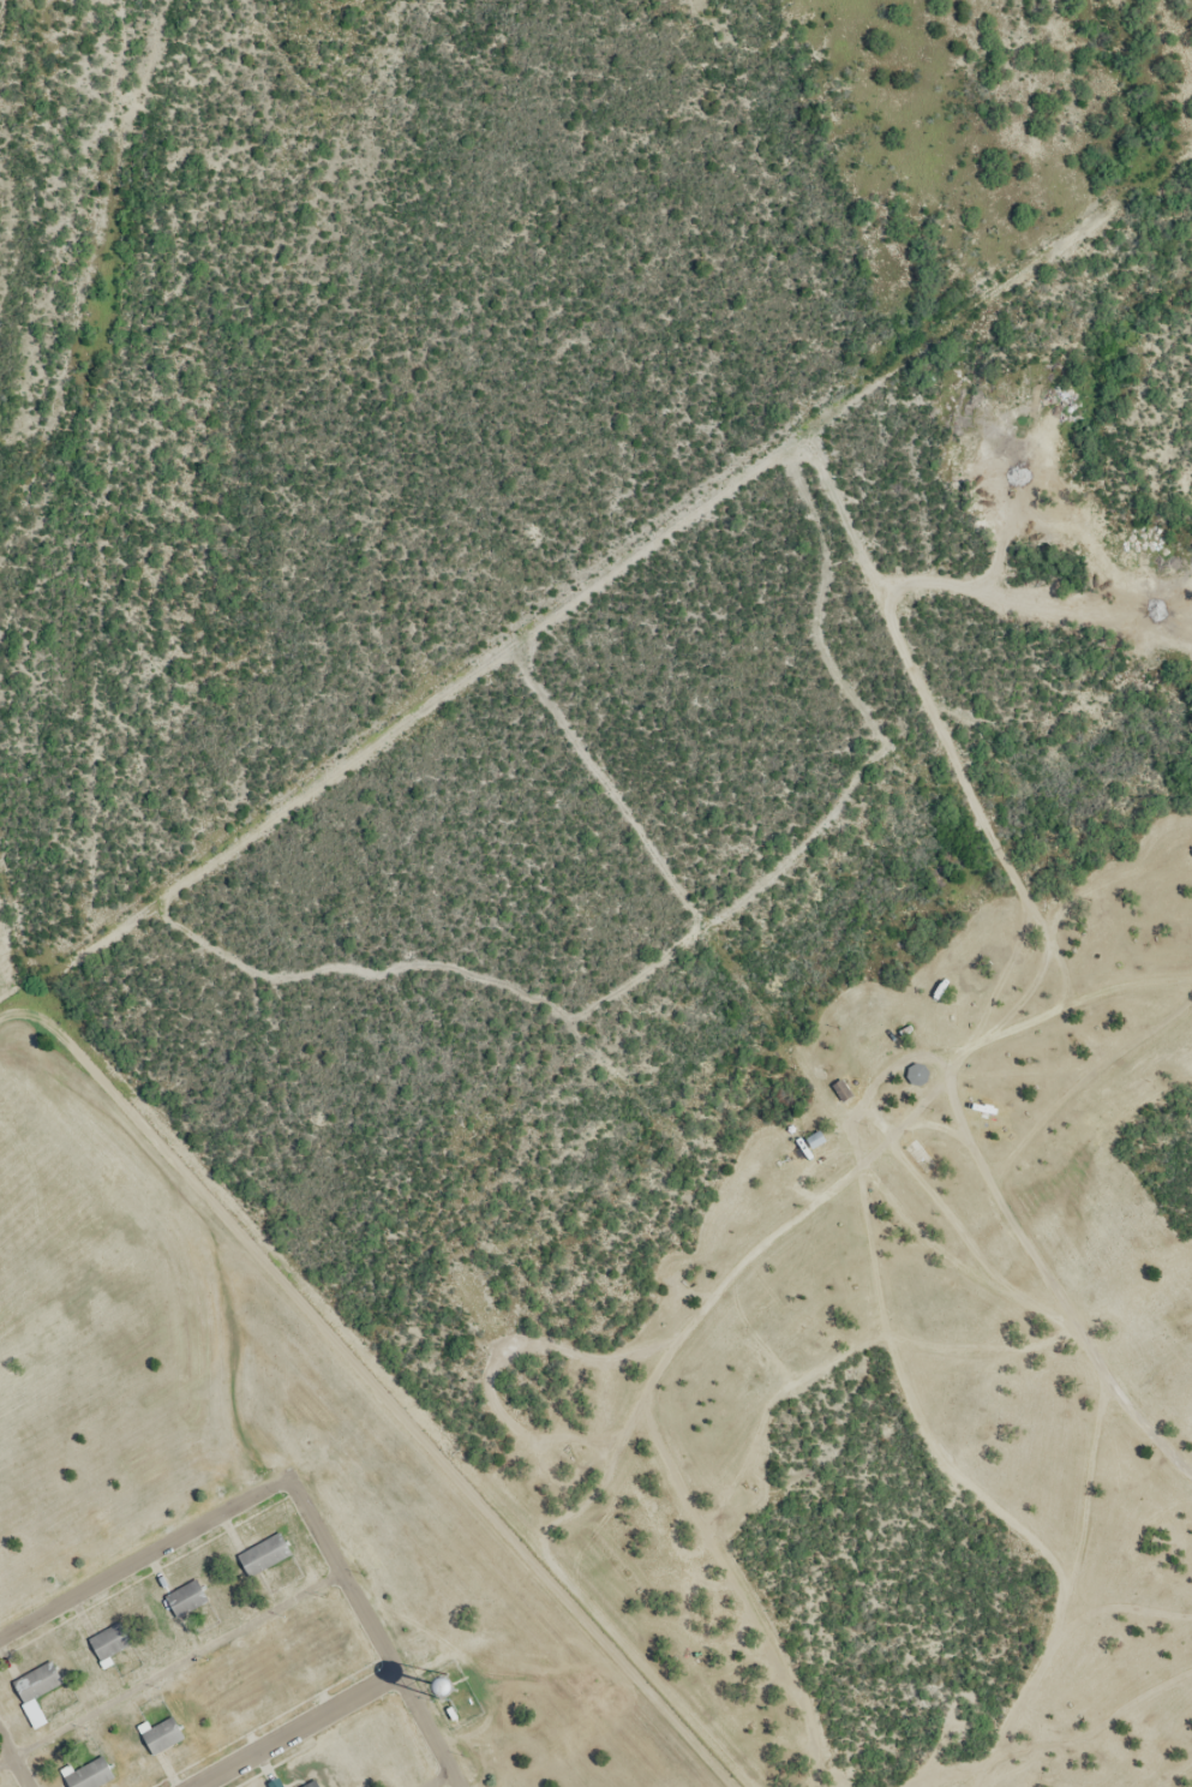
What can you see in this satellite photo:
park: (780, 1062)
building: (841, 1083)
road: (1066, 1317)
building: (263, 1548)
road: (143, 1558)
building: (270, 1562)
road: (340, 1577)
building: (186, 1591)
building: (193, 1607)
building: (109, 1637)
building: (35, 1683)
road: (423, 1725)
building: (160, 1726)
road: (294, 1731)
building: (168, 1744)
road: (13, 1763)
building: (88, 1769)
road: (438, 1780)
road: (454, 1780)
building: (307, 1783)
building: (282, 1786)

